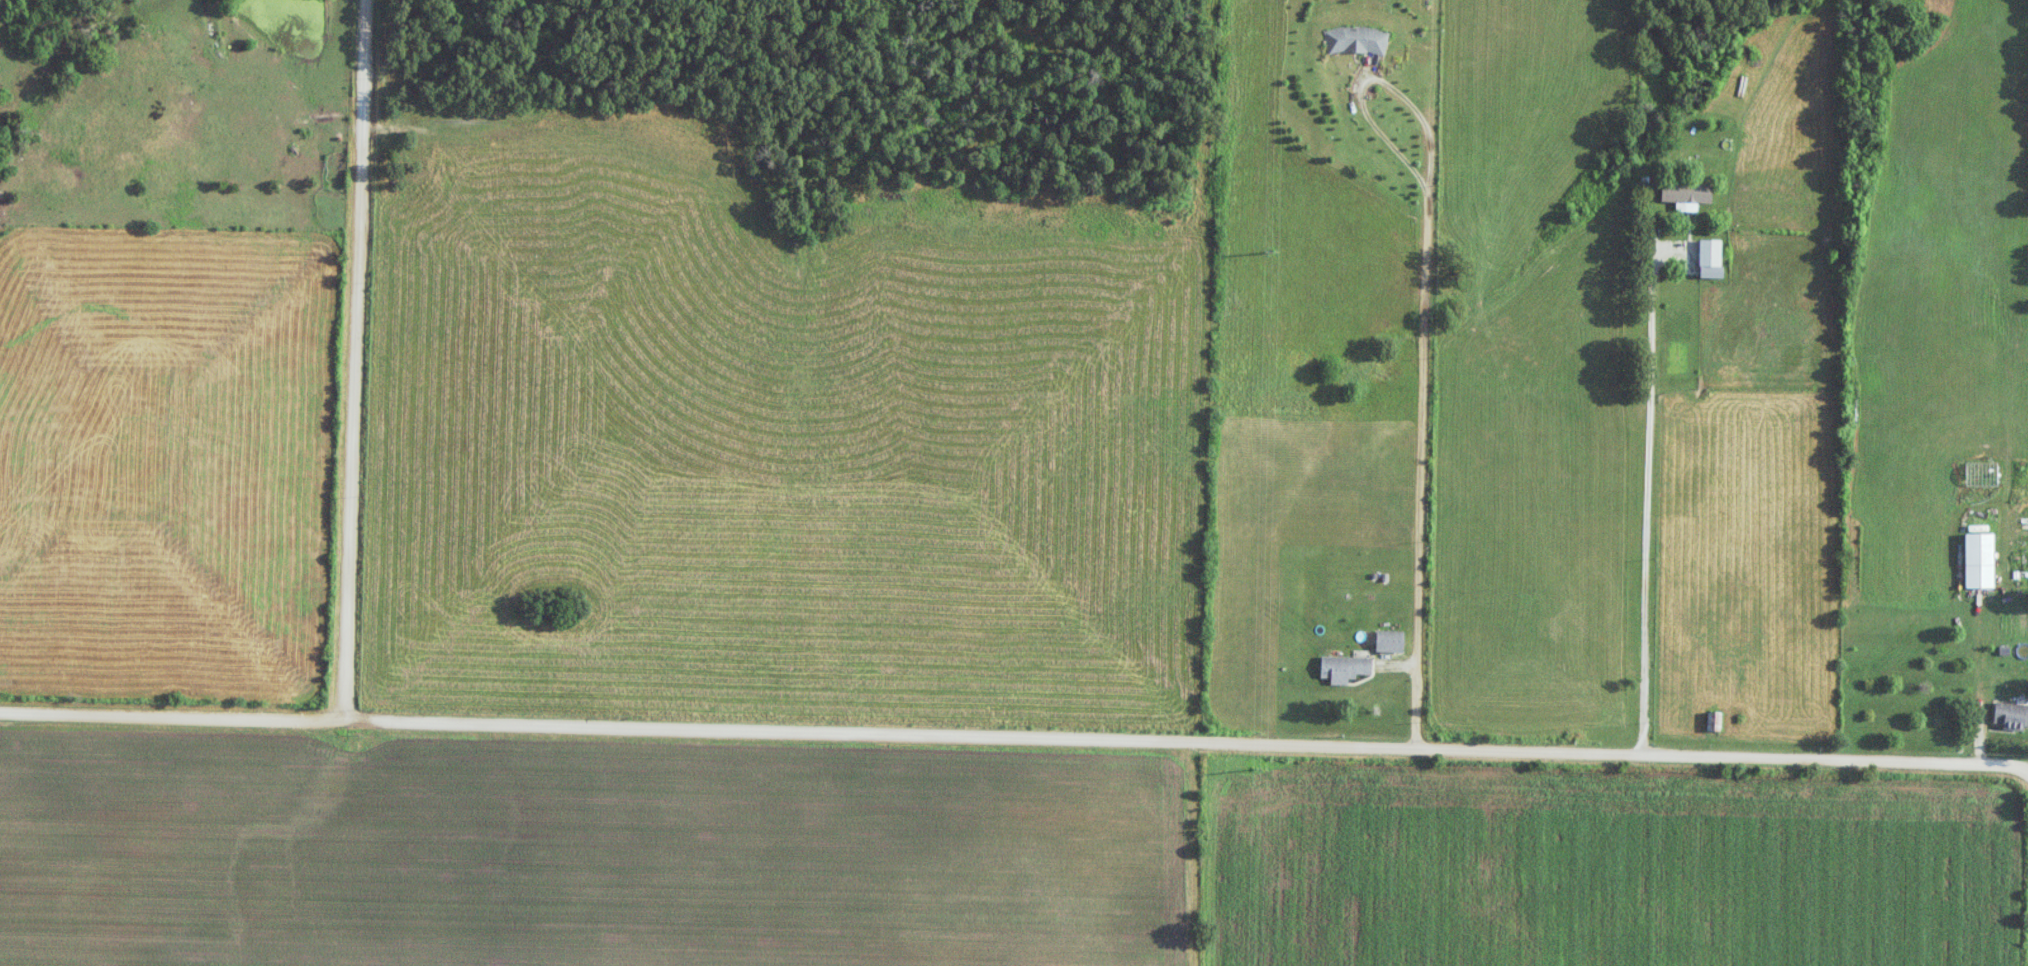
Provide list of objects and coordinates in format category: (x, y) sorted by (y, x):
building: (1358, 40)
building: (1688, 194)
building: (1713, 258)
road: (1429, 279)
road: (355, 361)
road: (1649, 512)
building: (1981, 560)
building: (1391, 641)
building: (1346, 668)
road: (1419, 704)
building: (2010, 715)
building: (1715, 721)
road: (1014, 740)

